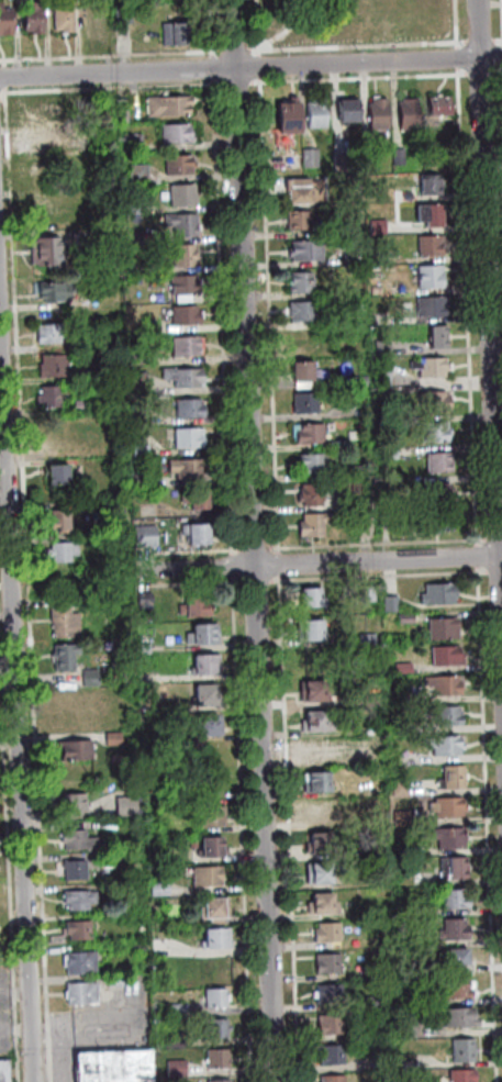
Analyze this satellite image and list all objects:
building: (121, 15)
building: (31, 16)
building: (94, 16)
building: (60, 18)
building: (4, 21)
park: (354, 22)
road: (501, 22)
road: (454, 23)
road: (255, 26)
road: (208, 27)
building: (174, 34)
road: (376, 44)
road: (234, 48)
road: (501, 51)
road: (109, 53)
road: (455, 57)
road: (2, 63)
road: (209, 63)
road: (256, 65)
road: (250, 67)
road: (486, 71)
road: (2, 76)
road: (358, 77)
road: (234, 83)
road: (112, 87)
road: (0, 97)
road: (3, 97)
building: (440, 103)
building: (168, 104)
building: (43, 109)
building: (119, 109)
building: (347, 109)
building: (316, 112)
building: (378, 112)
building: (409, 113)
building: (289, 114)
building: (176, 131)
building: (43, 140)
building: (133, 140)
building: (394, 154)
building: (431, 154)
building: (308, 157)
building: (365, 158)
building: (179, 163)
building: (341, 164)
building: (43, 167)
building: (138, 170)
building: (431, 179)
building: (300, 190)
building: (182, 193)
building: (134, 204)
building: (41, 207)
building: (430, 212)
building: (300, 217)
building: (182, 222)
building: (375, 226)
building: (135, 235)
building: (431, 244)
building: (305, 248)
building: (46, 250)
building: (185, 255)
building: (350, 257)
building: (431, 274)
building: (301, 281)
building: (185, 283)
building: (53, 291)
road: (466, 304)
building: (433, 305)
building: (302, 310)
building: (185, 313)
road: (222, 316)
road: (269, 325)
road: (489, 325)
building: (51, 332)
building: (438, 334)
building: (305, 341)
building: (187, 344)
building: (381, 346)
building: (359, 348)
building: (52, 365)
building: (428, 366)
building: (302, 373)
building: (382, 373)
building: (183, 375)
building: (357, 380)
building: (49, 395)
building: (434, 399)
building: (304, 401)
building: (189, 406)
building: (433, 430)
building: (309, 432)
building: (60, 435)
building: (190, 435)
building: (390, 450)
building: (437, 458)
building: (311, 461)
building: (183, 467)
building: (357, 470)
building: (57, 473)
building: (440, 492)
building: (310, 493)
building: (199, 499)
building: (58, 517)
building: (380, 520)
building: (437, 522)
building: (312, 523)
building: (361, 526)
building: (198, 533)
building: (145, 535)
road: (493, 536)
road: (250, 540)
road: (377, 540)
road: (254, 547)
road: (233, 548)
building: (59, 550)
road: (185, 551)
road: (476, 554)
road: (322, 564)
road: (231, 565)
road: (142, 570)
road: (493, 570)
road: (378, 575)
road: (255, 579)
road: (236, 581)
road: (187, 582)
road: (27, 583)
building: (437, 591)
building: (312, 595)
building: (364, 595)
building: (142, 600)
building: (90, 601)
building: (390, 602)
building: (198, 605)
building: (405, 617)
building: (62, 623)
building: (442, 626)
building: (311, 628)
building: (203, 632)
building: (367, 636)
building: (142, 648)
building: (445, 654)
building: (60, 656)
building: (205, 662)
building: (315, 662)
building: (400, 669)
building: (87, 678)
building: (146, 681)
building: (442, 683)
building: (316, 689)
building: (208, 693)
building: (394, 694)
building: (369, 700)
building: (447, 714)
building: (317, 721)
building: (208, 724)
building: (393, 728)
road: (15, 734)
building: (110, 739)
building: (444, 744)
building: (71, 748)
building: (317, 749)
building: (454, 774)
building: (317, 780)
building: (399, 785)
building: (75, 800)
building: (127, 805)
building: (446, 805)
building: (377, 810)
building: (319, 811)
building: (210, 815)
building: (403, 817)
road: (487, 823)
road: (288, 828)
road: (241, 832)
building: (448, 836)
building: (74, 838)
building: (323, 843)
building: (211, 845)
building: (373, 851)
building: (108, 858)
building: (453, 867)
building: (71, 870)
building: (321, 873)
building: (207, 874)
road: (9, 878)
building: (159, 886)
building: (454, 897)
building: (77, 899)
building: (324, 902)
building: (215, 908)
building: (152, 922)
building: (453, 927)
building: (77, 928)
building: (325, 930)
building: (215, 936)
building: (135, 947)
building: (455, 958)
building: (79, 961)
building: (328, 961)
building: (109, 980)
building: (456, 986)
road: (13, 991)
building: (81, 991)
building: (328, 991)
building: (216, 995)
building: (175, 1006)
parking lot: (7, 1010)
building: (182, 1013)
building: (459, 1015)
building: (328, 1023)
building: (411, 1025)
building: (219, 1026)
road: (14, 1030)
building: (177, 1039)
building: (467, 1050)
building: (331, 1053)
building: (217, 1057)
building: (383, 1060)
building: (413, 1064)
building: (113, 1066)
building: (176, 1067)
building: (5, 1071)
building: (466, 1074)
building: (332, 1078)
building: (219, 1080)

